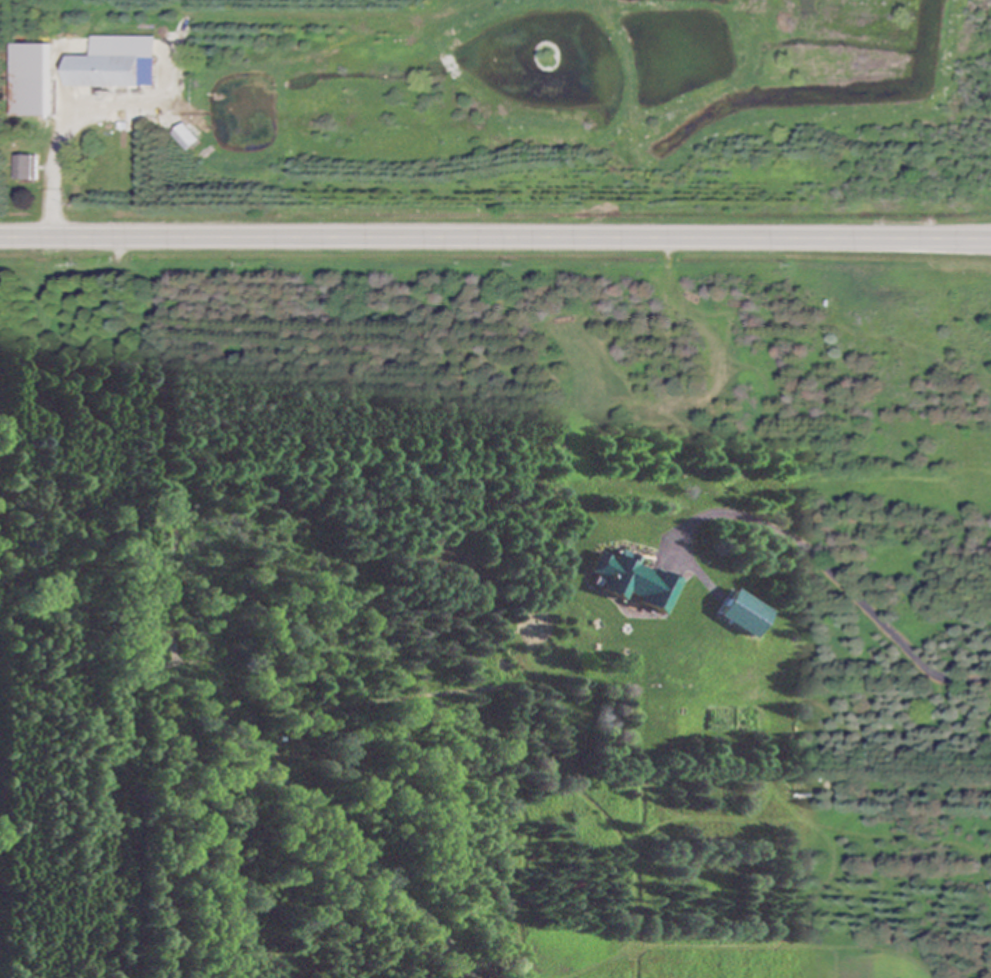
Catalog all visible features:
building: (118, 65)
building: (37, 80)
building: (188, 138)
building: (28, 168)
road: (53, 176)
road: (495, 235)
road: (839, 575)
building: (635, 582)
building: (746, 615)

